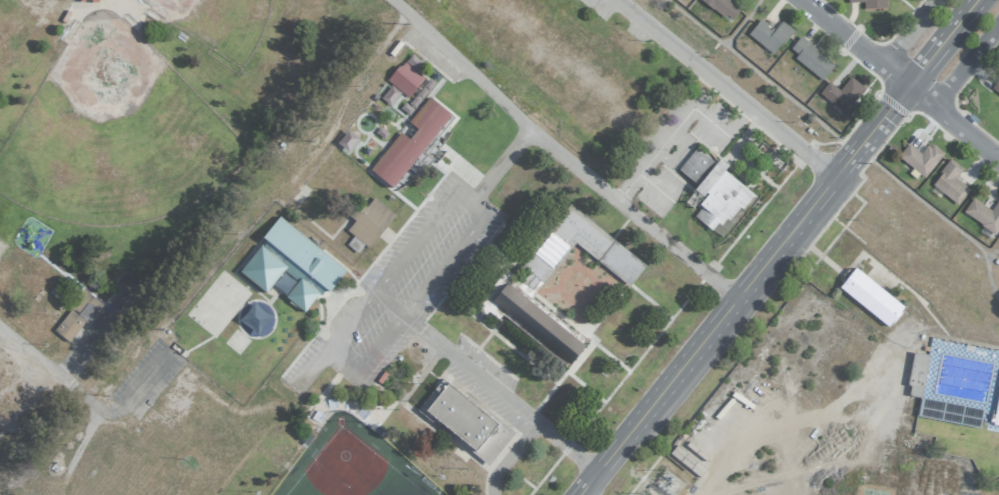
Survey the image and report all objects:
building: (84, 0)
building: (869, 3)
building: (722, 8)
building: (768, 35)
road: (851, 43)
building: (809, 58)
road: (582, 64)
building: (997, 70)
building: (405, 75)
building: (995, 86)
road: (719, 90)
building: (841, 94)
road: (951, 123)
road: (667, 134)
building: (408, 142)
road: (560, 149)
building: (919, 158)
road: (505, 164)
building: (949, 182)
building: (712, 189)
road: (468, 197)
building: (691, 198)
building: (983, 214)
building: (368, 221)
building: (586, 245)
airport: (499, 247)
road: (777, 248)
building: (290, 265)
road: (393, 266)
building: (125, 284)
road: (415, 288)
building: (869, 297)
road: (386, 301)
building: (537, 314)
building: (75, 316)
road: (336, 362)
building: (916, 373)
road: (351, 377)
road: (497, 391)
road: (81, 396)
building: (996, 409)
building: (948, 412)
building: (464, 420)
road: (420, 437)
road: (509, 454)

